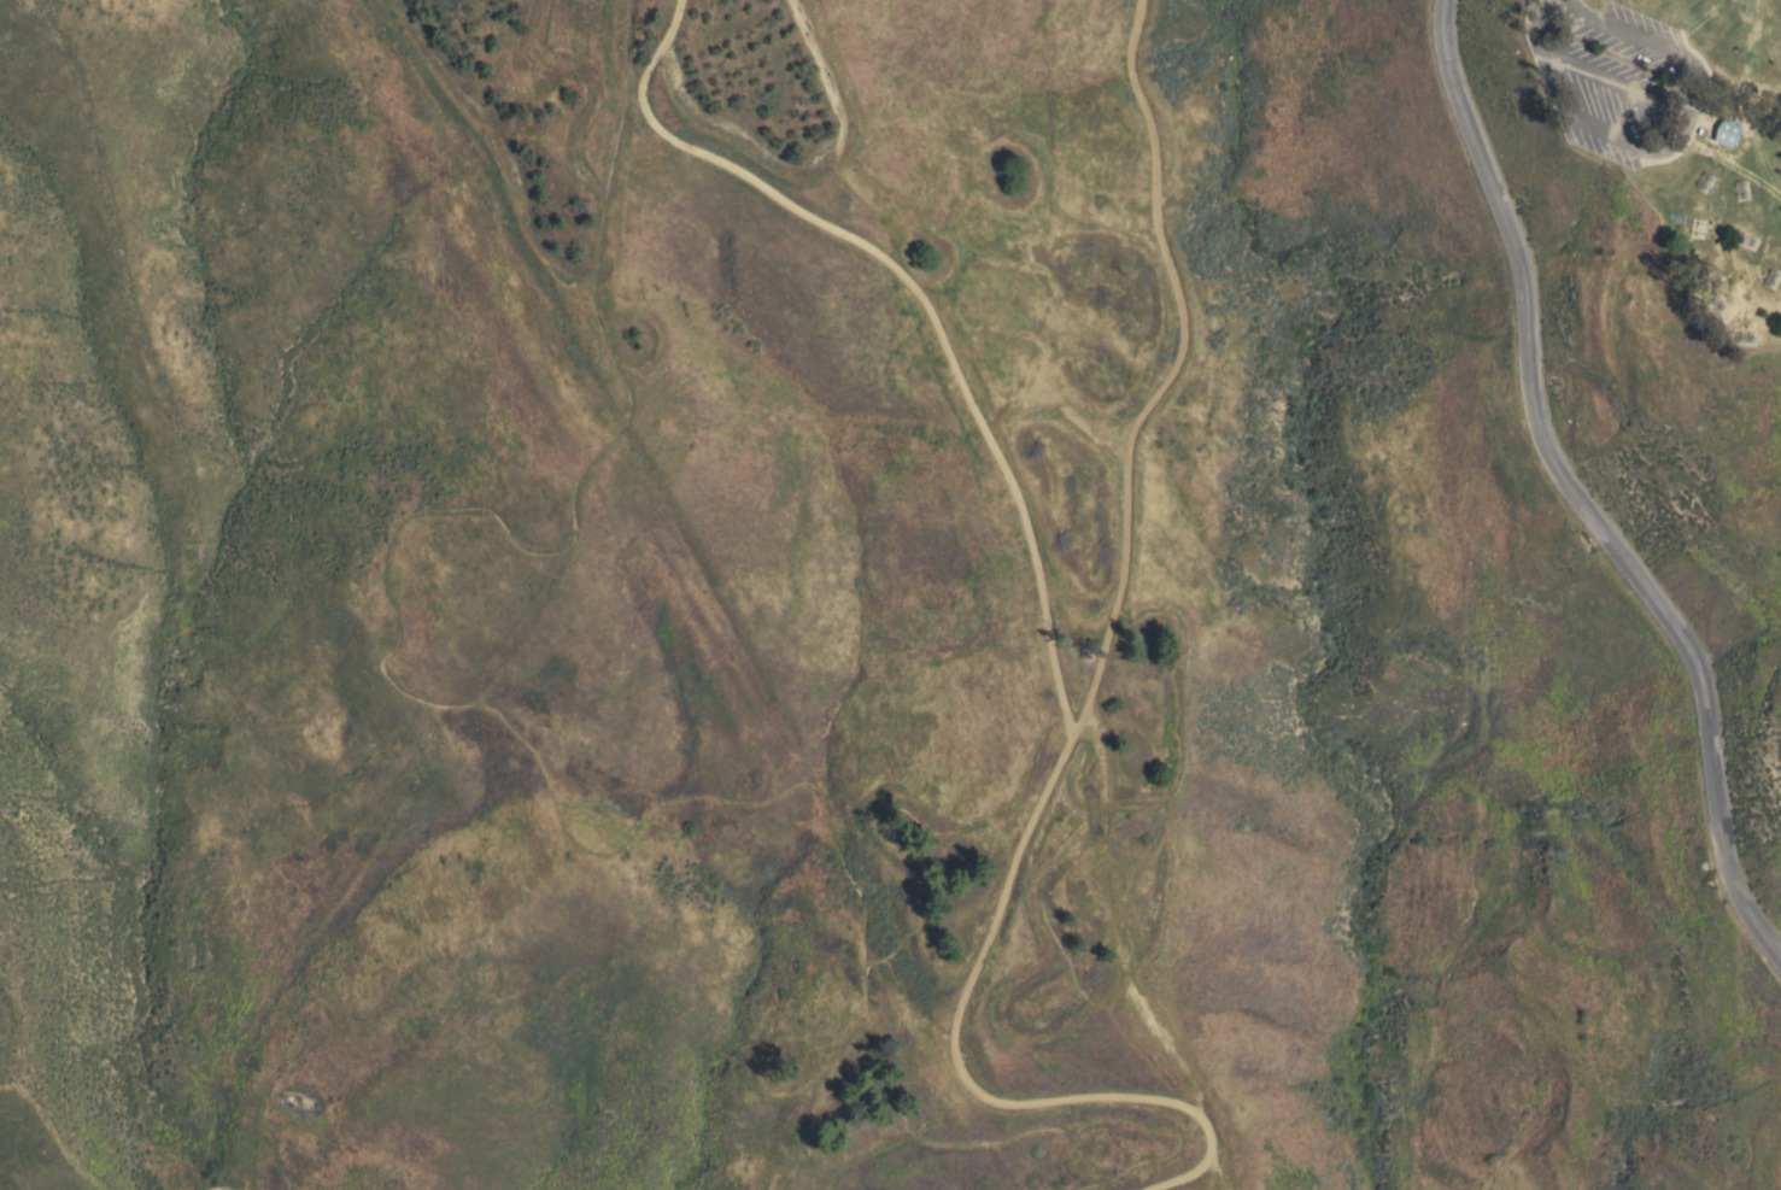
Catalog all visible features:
road: (1548, 31)
road: (1641, 39)
parking lot: (1627, 81)
building: (1724, 133)
road: (1668, 136)
road: (918, 297)
road: (1576, 493)
park: (1091, 569)
road: (1077, 715)
road: (545, 769)

